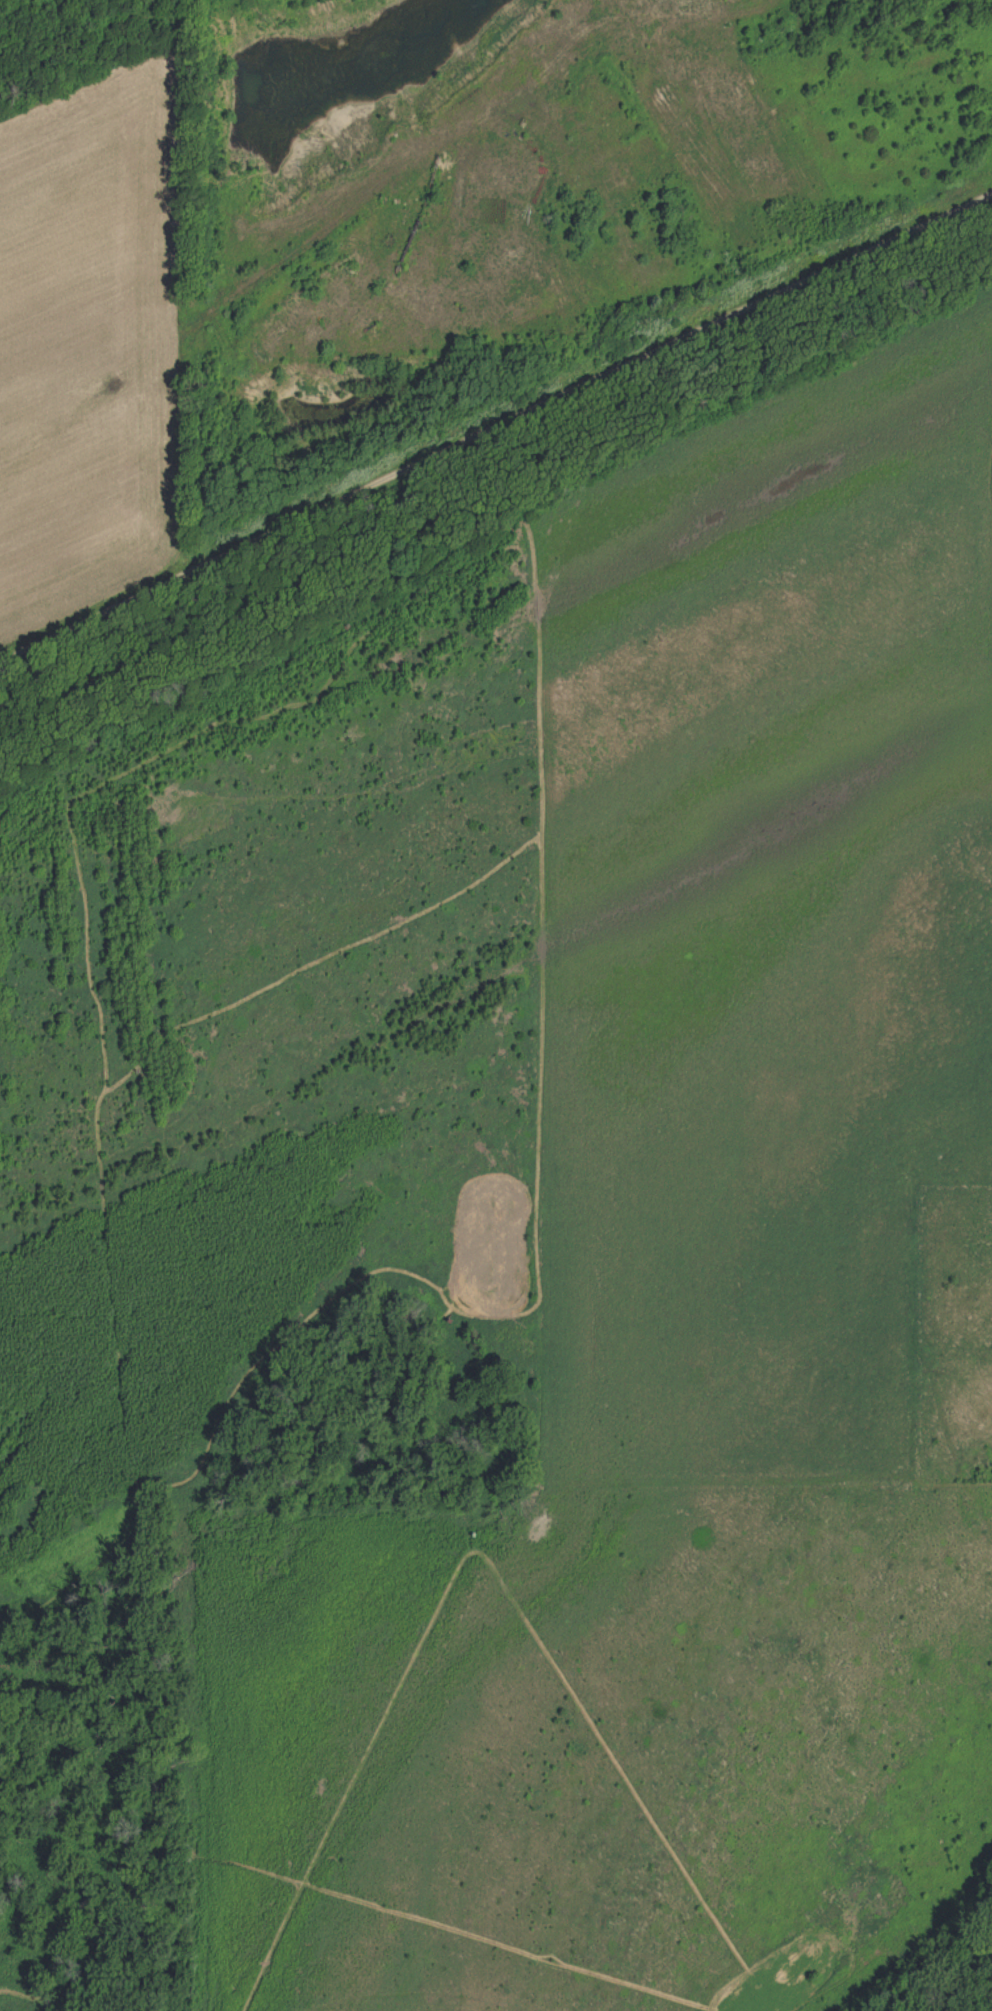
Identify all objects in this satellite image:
road: (496, 423)

